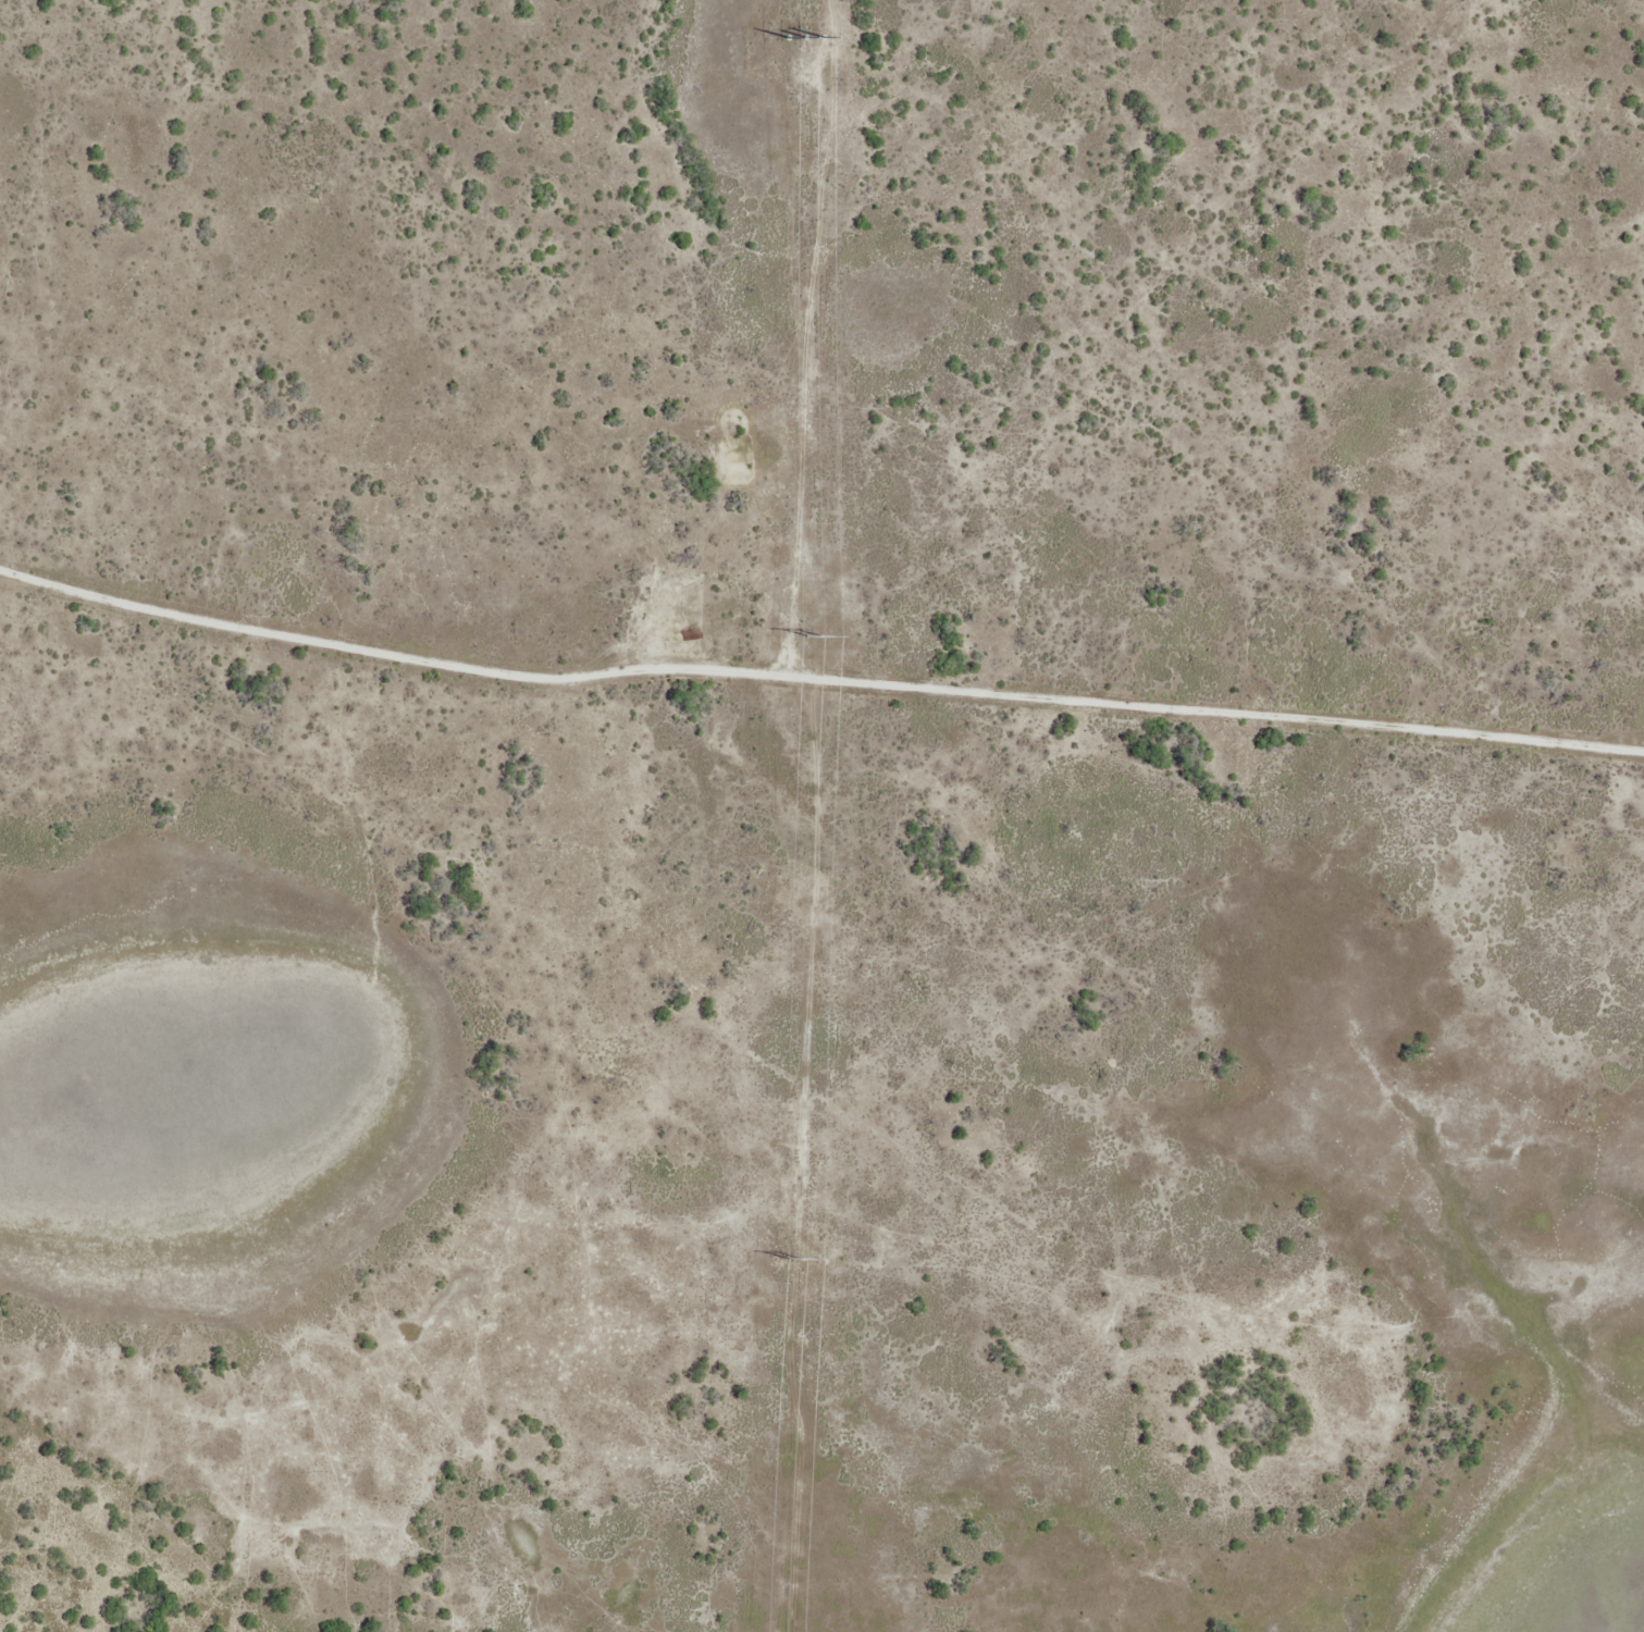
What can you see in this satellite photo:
power tower: (809, 27)
road: (816, 620)
power tower: (821, 635)
power tower: (801, 1260)

